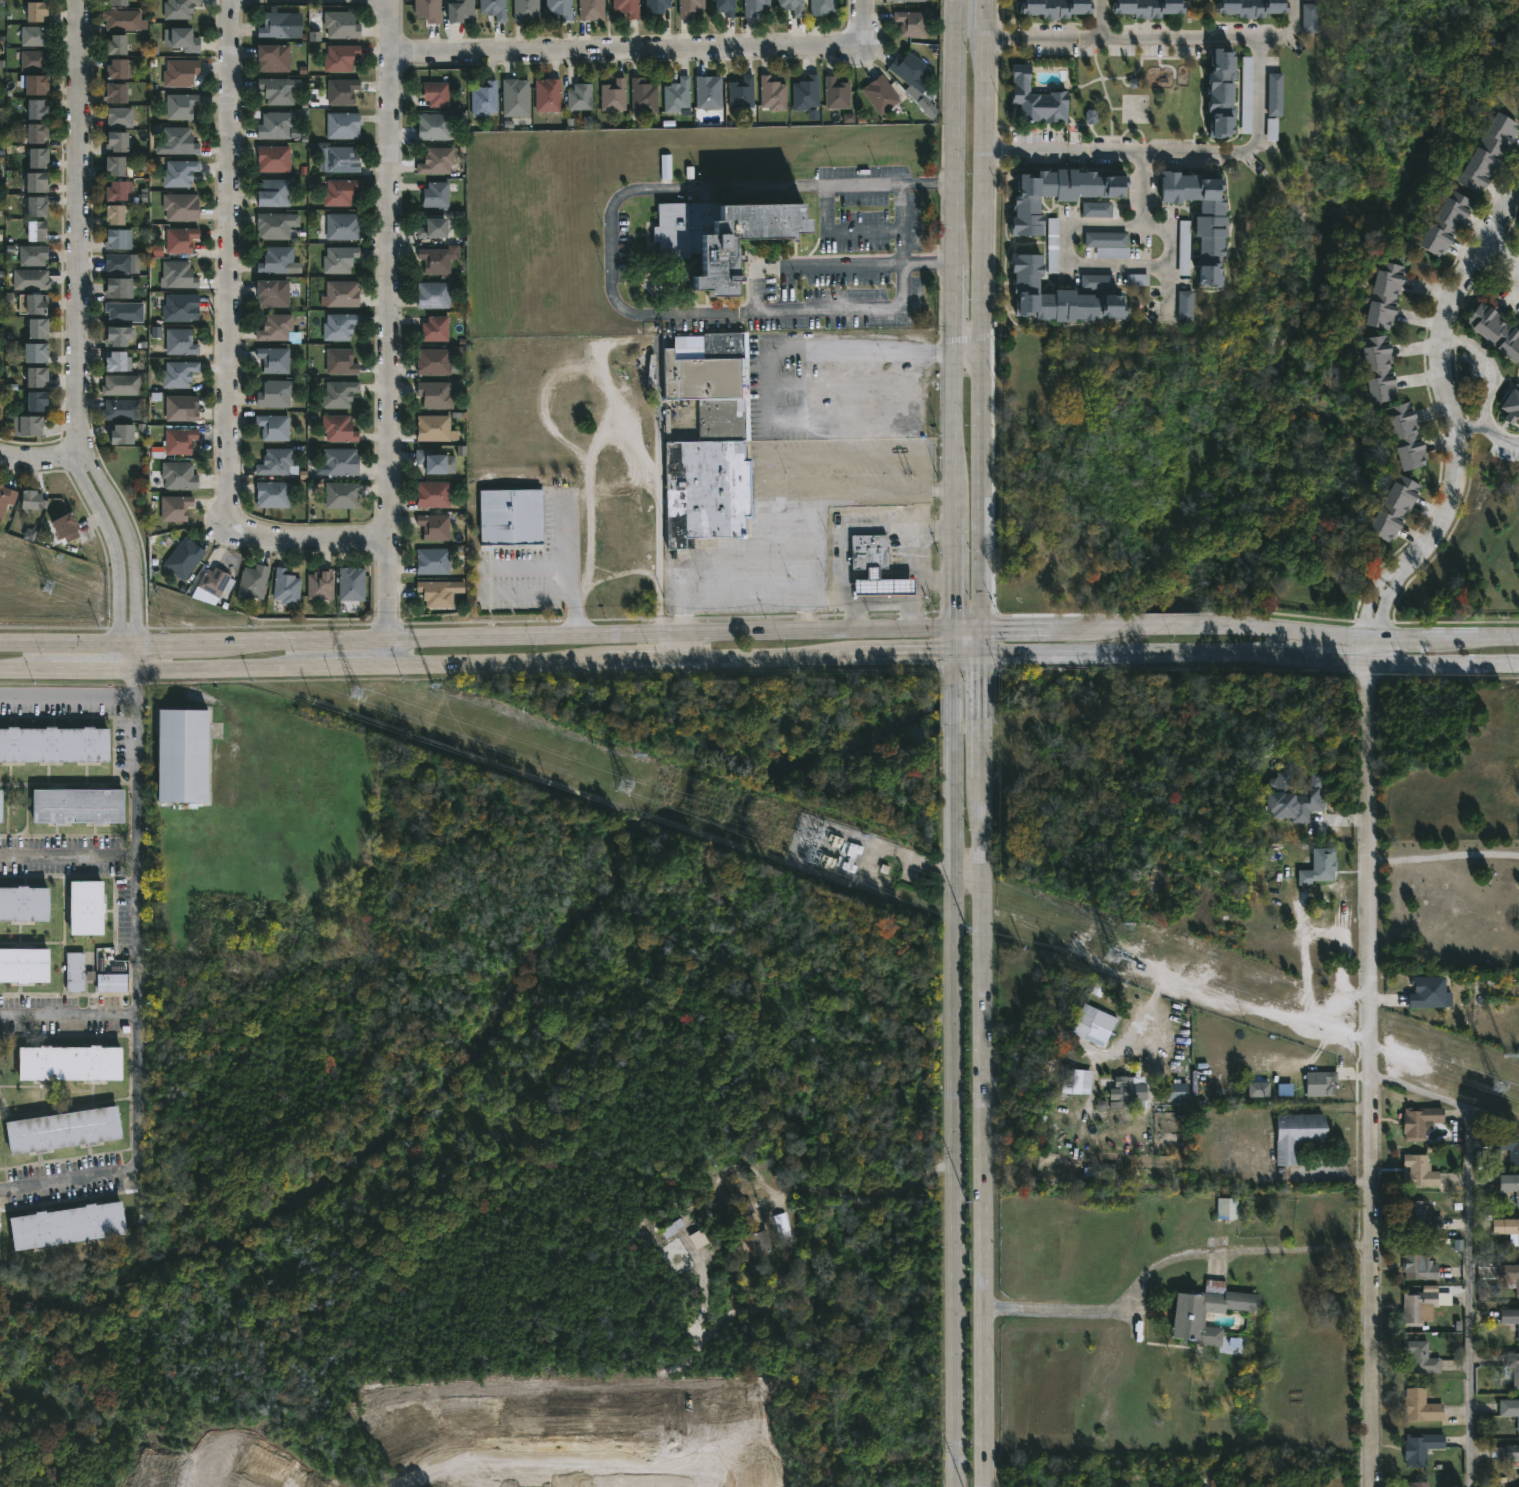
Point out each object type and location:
building: (910, 0)
building: (115, 3)
building: (657, 6)
building: (792, 6)
building: (627, 7)
building: (690, 7)
building: (725, 7)
building: (755, 7)
building: (1052, 7)
building: (1145, 7)
building: (1250, 7)
building: (560, 8)
building: (823, 8)
building: (179, 9)
building: (494, 9)
building: (428, 10)
building: (460, 10)
building: (591, 10)
building: (526, 11)
building: (36, 13)
road: (1098, 18)
building: (1310, 19)
building: (121, 20)
building: (340, 23)
building: (275, 24)
building: (912, 24)
road: (1287, 32)
building: (34, 35)
building: (183, 40)
building: (114, 46)
road: (647, 50)
building: (273, 56)
building: (340, 56)
building: (34, 59)
building: (115, 70)
building: (180, 72)
building: (911, 72)
building: (33, 83)
building: (276, 90)
building: (341, 90)
building: (114, 92)
building: (709, 92)
building: (435, 93)
building: (741, 93)
road: (1257, 93)
building: (548, 94)
building: (614, 94)
building: (773, 94)
building: (806, 94)
building: (836, 94)
building: (1275, 94)
building: (677, 95)
building: (880, 95)
building: (1222, 95)
building: (1246, 95)
building: (515, 96)
building: (580, 96)
building: (644, 97)
building: (1518, 97)
building: (484, 98)
building: (1037, 99)
building: (179, 105)
building: (927, 107)
building: (36, 108)
building: (119, 117)
building: (1091, 117)
building: (275, 124)
building: (342, 124)
building: (433, 126)
building: (33, 132)
building: (115, 139)
building: (177, 140)
building: (1490, 153)
building: (36, 156)
building: (272, 158)
building: (338, 159)
building: (436, 160)
building: (114, 163)
building: (665, 164)
building: (178, 172)
building: (35, 181)
building: (114, 189)
building: (272, 191)
building: (338, 191)
building: (1059, 192)
building: (436, 194)
building: (35, 205)
building: (180, 207)
building: (1096, 210)
building: (113, 213)
building: (1203, 216)
road: (75, 221)
road: (901, 222)
building: (1447, 223)
building: (272, 225)
road: (1160, 225)
building: (339, 226)
building: (431, 227)
building: (34, 229)
road: (841, 229)
building: (1518, 231)
building: (724, 232)
building: (117, 238)
building: (179, 239)
building: (1108, 244)
building: (1052, 245)
building: (31, 254)
road: (1500, 255)
building: (339, 259)
building: (434, 259)
road: (1067, 259)
building: (278, 260)
building: (117, 263)
road: (845, 263)
road: (609, 270)
building: (178, 274)
building: (30, 278)
building: (118, 286)
building: (272, 292)
building: (1063, 293)
building: (342, 294)
building: (1387, 294)
building: (433, 295)
building: (34, 302)
building: (1185, 305)
building: (179, 307)
building: (123, 311)
road: (952, 314)
road: (389, 318)
building: (339, 326)
building: (36, 327)
road: (982, 327)
building: (435, 328)
building: (277, 329)
building: (1496, 330)
building: (114, 335)
building: (180, 341)
road: (228, 341)
road: (823, 350)
road: (967, 350)
building: (35, 352)
building: (458, 353)
building: (273, 359)
building: (114, 360)
building: (340, 361)
building: (433, 361)
road: (1439, 366)
building: (1379, 369)
building: (178, 373)
building: (35, 376)
road: (1489, 383)
building: (120, 384)
building: (1, 387)
building: (274, 393)
building: (338, 393)
building: (435, 394)
building: (35, 401)
building: (1512, 406)
building: (179, 408)
building: (120, 410)
building: (25, 425)
building: (273, 426)
building: (339, 428)
building: (432, 428)
building: (120, 433)
building: (1407, 435)
building: (179, 441)
building: (710, 443)
road: (38, 455)
road: (810, 459)
building: (339, 461)
building: (276, 462)
building: (435, 462)
building: (178, 475)
road: (845, 491)
building: (272, 494)
building: (433, 494)
building: (341, 496)
building: (29, 498)
building: (6, 500)
building: (175, 507)
building: (1396, 509)
building: (511, 516)
building: (433, 526)
building: (64, 527)
road: (911, 534)
road: (133, 549)
building: (870, 552)
road: (114, 554)
building: (184, 558)
road: (742, 558)
building: (432, 561)
road: (1397, 561)
road: (566, 567)
road: (1407, 570)
building: (215, 582)
building: (253, 582)
building: (350, 584)
road: (485, 584)
power tower: (46, 585)
building: (319, 585)
building: (885, 586)
gas station: (885, 586)
building: (285, 587)
road: (912, 587)
building: (434, 593)
road: (746, 593)
road: (899, 601)
road: (1367, 605)
traffic signals: (954, 611)
road: (1382, 611)
road: (912, 612)
traffic signals: (1002, 628)
road: (1236, 629)
road: (477, 636)
road: (668, 648)
road: (1370, 648)
road: (389, 654)
road: (1251, 655)
traffic signals: (933, 656)
road: (492, 667)
traffic signals: (984, 671)
road: (67, 695)
power tower: (360, 695)
road: (563, 742)
building: (54, 745)
building: (181, 756)
power tower: (626, 781)
building: (1295, 798)
building: (0, 806)
building: (76, 807)
power substation: (824, 848)
power tower: (841, 856)
road: (69, 858)
road: (1445, 859)
building: (1324, 865)
road: (969, 874)
building: (22, 904)
building: (83, 908)
power tower: (1113, 953)
building: (23, 964)
building: (74, 972)
building: (110, 983)
road: (137, 984)
building: (1429, 993)
road: (68, 1014)
building: (1095, 1022)
road: (1033, 1031)
road: (955, 1058)
building: (69, 1061)
road: (984, 1071)
road: (1374, 1073)
building: (1073, 1079)
building: (1321, 1082)
power tower: (1500, 1086)
building: (1129, 1089)
building: (1258, 1089)
building: (1178, 1091)
road: (1447, 1099)
building: (1101, 1105)
building: (1421, 1121)
building: (62, 1129)
building: (1297, 1135)
building: (1510, 1146)
building: (1420, 1171)
building: (1099, 1172)
road: (1336, 1176)
building: (1510, 1183)
building: (1228, 1208)
building: (744, 1209)
building: (1421, 1218)
building: (65, 1224)
building: (1508, 1228)
building: (758, 1239)
road: (1239, 1251)
building: (1418, 1264)
building: (1510, 1276)
road: (1471, 1297)
building: (1422, 1306)
road: (1054, 1309)
building: (1208, 1311)
building: (1510, 1317)
building: (1420, 1358)
building: (1514, 1367)
building: (1421, 1406)
building: (1510, 1408)
building: (1422, 1447)
building: (1507, 1454)
building: (1417, 1484)
building: (1169, 1486)

